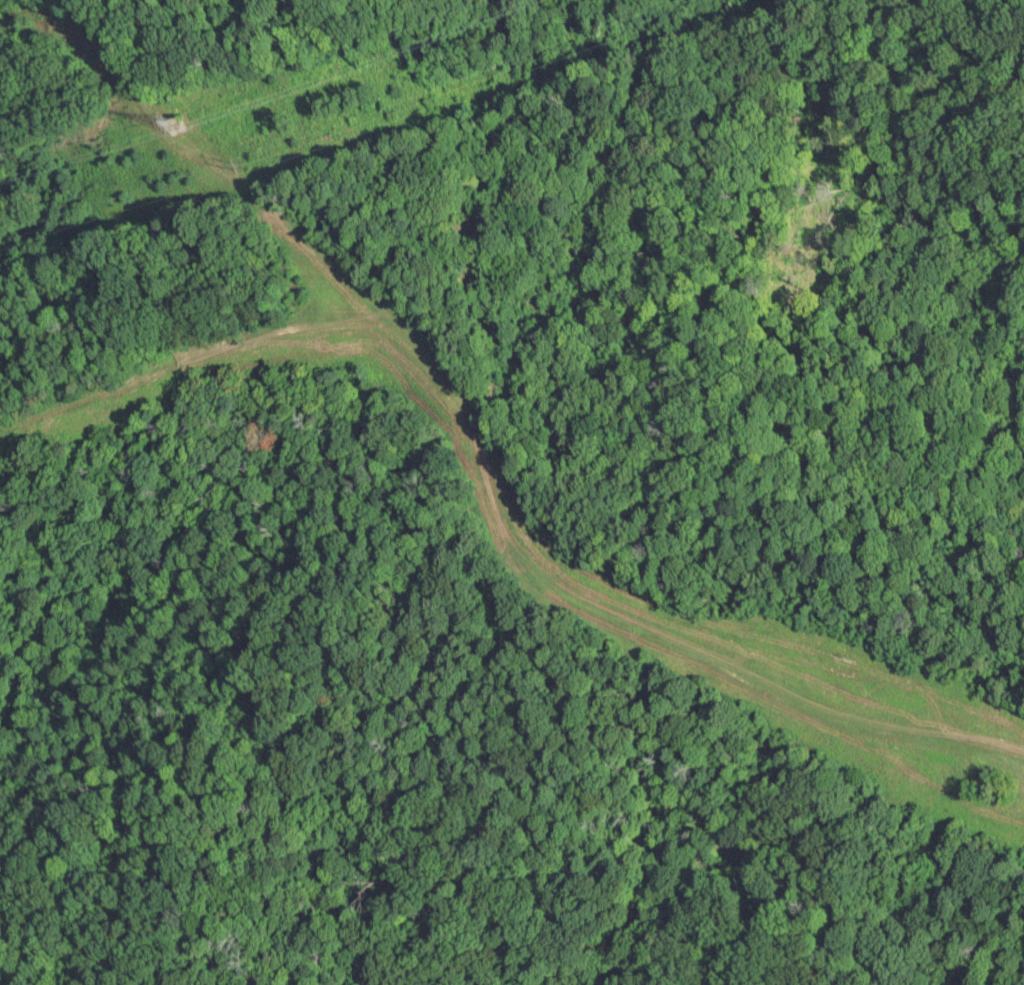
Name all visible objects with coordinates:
power tower: (170, 129)
power tower: (241, 166)

